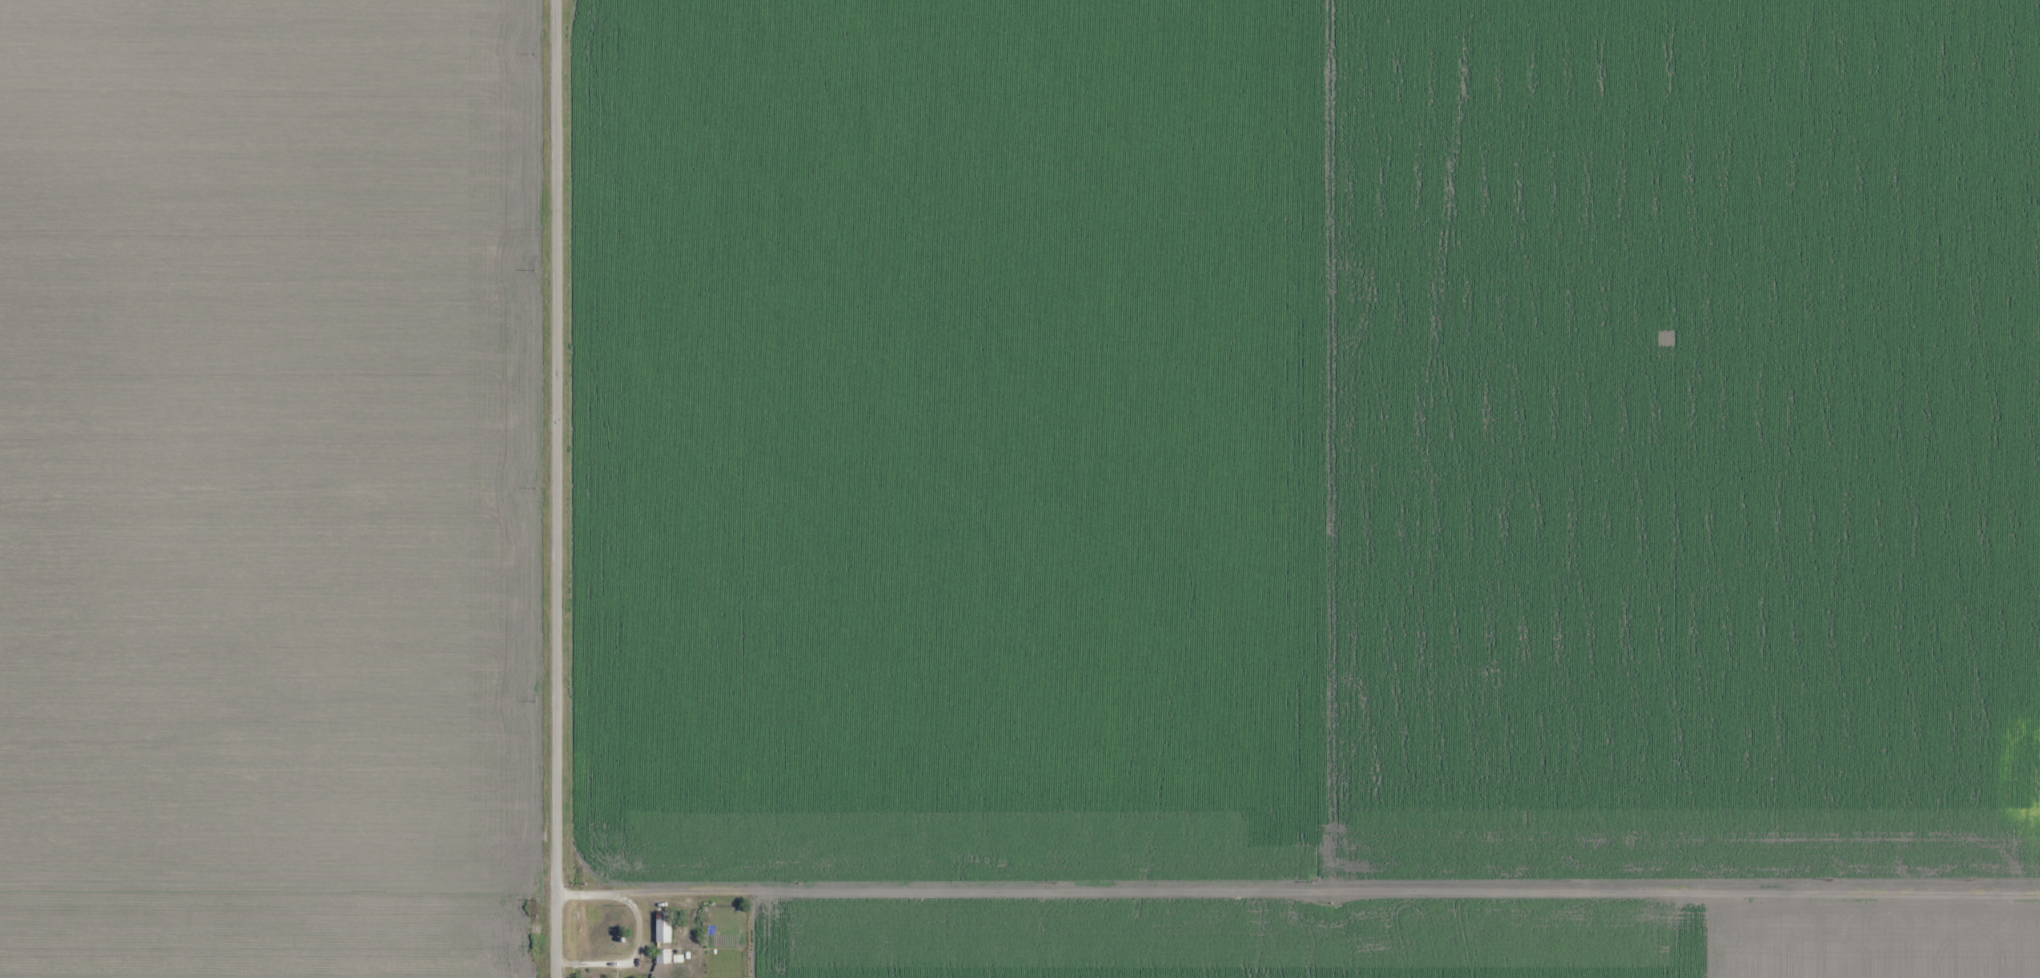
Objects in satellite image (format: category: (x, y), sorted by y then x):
road: (555, 489)
road: (1298, 891)
building: (661, 929)
building: (692, 962)

